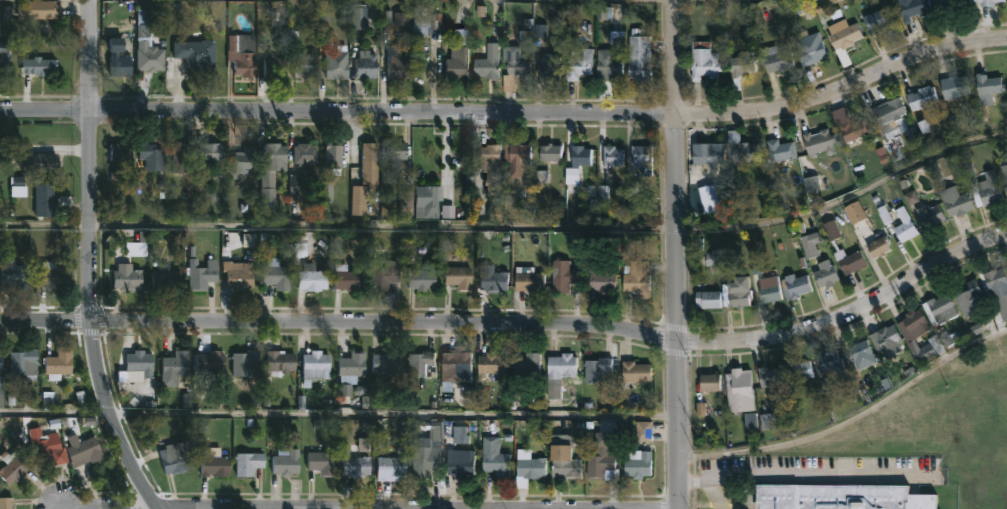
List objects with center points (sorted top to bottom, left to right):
road: (698, 1)
building: (986, 2)
building: (943, 5)
building: (911, 9)
building: (42, 10)
building: (356, 20)
building: (877, 20)
building: (422, 22)
building: (842, 34)
building: (810, 48)
building: (196, 53)
building: (4, 54)
building: (239, 54)
building: (638, 55)
building: (152, 56)
building: (777, 57)
building: (121, 59)
building: (702, 61)
building: (487, 62)
building: (394, 63)
building: (578, 63)
building: (456, 64)
building: (514, 65)
building: (48, 66)
building: (301, 66)
building: (363, 66)
building: (548, 66)
building: (607, 66)
building: (740, 66)
building: (268, 67)
building: (335, 68)
building: (954, 84)
building: (987, 88)
building: (920, 97)
road: (509, 113)
building: (889, 115)
building: (852, 129)
building: (818, 141)
building: (393, 150)
building: (780, 150)
building: (122, 151)
building: (216, 151)
building: (330, 151)
building: (548, 151)
building: (743, 151)
building: (302, 152)
building: (708, 152)
building: (578, 154)
building: (611, 154)
building: (488, 155)
building: (185, 156)
building: (153, 157)
building: (517, 159)
building: (639, 159)
building: (44, 161)
building: (243, 161)
building: (270, 174)
building: (1005, 176)
building: (362, 177)
building: (989, 187)
building: (46, 199)
building: (425, 200)
building: (956, 201)
building: (853, 210)
building: (929, 215)
building: (901, 222)
road: (511, 226)
building: (833, 231)
building: (810, 243)
building: (878, 246)
road: (674, 254)
building: (849, 259)
road: (92, 260)
building: (825, 273)
building: (15, 274)
building: (202, 274)
building: (240, 274)
building: (273, 274)
building: (54, 275)
building: (563, 275)
building: (380, 276)
building: (129, 277)
building: (309, 277)
building: (456, 277)
building: (491, 277)
building: (343, 278)
building: (420, 278)
building: (602, 278)
building: (636, 278)
building: (166, 279)
building: (528, 281)
building: (996, 283)
building: (794, 284)
building: (768, 288)
building: (738, 296)
building: (967, 296)
building: (706, 298)
building: (939, 308)
road: (516, 322)
building: (912, 324)
building: (885, 339)
building: (927, 350)
building: (860, 353)
building: (213, 361)
building: (245, 362)
building: (276, 362)
building: (383, 362)
building: (828, 362)
building: (419, 363)
building: (525, 363)
building: (25, 364)
building: (60, 364)
building: (313, 364)
building: (488, 364)
building: (140, 365)
building: (560, 365)
building: (348, 366)
building: (176, 367)
building: (453, 368)
building: (595, 368)
building: (799, 370)
building: (635, 371)
building: (769, 375)
building: (2, 381)
building: (708, 381)
building: (738, 390)
road: (336, 414)
road: (850, 422)
park: (943, 427)
building: (645, 433)
building: (45, 445)
building: (85, 450)
building: (177, 457)
building: (493, 457)
building: (422, 459)
building: (283, 462)
building: (560, 462)
building: (598, 462)
building: (636, 462)
building: (249, 463)
building: (318, 463)
building: (218, 466)
building: (353, 466)
building: (457, 466)
building: (530, 466)
building: (15, 467)
building: (387, 467)
road: (816, 471)
road: (686, 478)
road: (713, 493)
building: (838, 496)
building: (7, 503)
road: (166, 507)
road: (623, 508)

